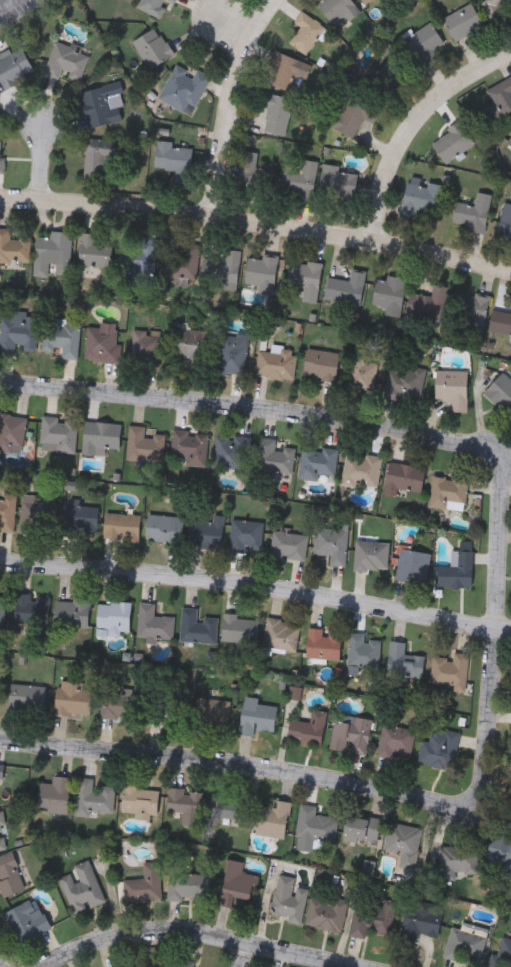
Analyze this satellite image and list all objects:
road: (2, 1)
building: (174, 1)
building: (364, 1)
building: (152, 5)
building: (497, 8)
building: (338, 9)
building: (463, 20)
road: (231, 23)
building: (308, 31)
building: (425, 43)
building: (153, 47)
building: (66, 60)
building: (14, 66)
building: (282, 70)
building: (387, 78)
building: (184, 88)
building: (502, 96)
building: (103, 103)
road: (228, 103)
building: (276, 113)
building: (349, 117)
road: (412, 130)
building: (509, 140)
building: (453, 141)
building: (510, 143)
building: (97, 159)
building: (175, 159)
building: (2, 160)
road: (44, 165)
building: (255, 170)
building: (301, 180)
building: (339, 183)
building: (421, 197)
building: (472, 212)
building: (505, 220)
road: (257, 227)
building: (14, 247)
building: (93, 249)
building: (61, 251)
building: (139, 257)
building: (182, 263)
building: (222, 269)
building: (262, 271)
building: (305, 277)
building: (346, 287)
building: (389, 293)
building: (426, 303)
building: (472, 310)
building: (500, 323)
building: (19, 330)
building: (62, 337)
building: (192, 343)
building: (102, 344)
building: (149, 347)
building: (233, 352)
building: (276, 362)
building: (321, 363)
building: (362, 371)
building: (405, 382)
building: (452, 386)
building: (501, 391)
road: (252, 408)
building: (12, 432)
building: (59, 434)
building: (101, 436)
building: (145, 443)
building: (189, 446)
building: (231, 451)
building: (275, 458)
building: (319, 462)
building: (362, 468)
building: (403, 479)
building: (448, 492)
building: (7, 511)
building: (40, 513)
building: (81, 518)
building: (122, 526)
building: (164, 528)
building: (208, 530)
building: (247, 535)
building: (289, 544)
building: (332, 544)
building: (371, 555)
building: (413, 565)
building: (458, 567)
road: (255, 595)
building: (31, 609)
building: (2, 610)
building: (72, 612)
building: (114, 616)
building: (154, 622)
building: (197, 626)
building: (240, 628)
building: (281, 634)
road: (493, 634)
building: (323, 643)
building: (364, 651)
building: (403, 660)
building: (451, 669)
building: (27, 695)
building: (72, 697)
building: (165, 704)
building: (257, 715)
building: (309, 727)
building: (352, 734)
building: (396, 740)
building: (441, 749)
building: (2, 770)
road: (235, 772)
building: (55, 794)
building: (95, 797)
building: (140, 800)
building: (186, 803)
building: (230, 804)
building: (273, 818)
building: (315, 823)
building: (361, 827)
building: (3, 833)
building: (404, 843)
building: (501, 849)
building: (458, 859)
building: (9, 874)
building: (236, 883)
building: (144, 884)
building: (189, 886)
building: (82, 887)
building: (289, 899)
building: (326, 912)
building: (375, 917)
building: (26, 920)
building: (420, 921)
road: (192, 938)
building: (466, 942)
building: (502, 952)
road: (245, 956)
building: (179, 962)
building: (131, 966)

